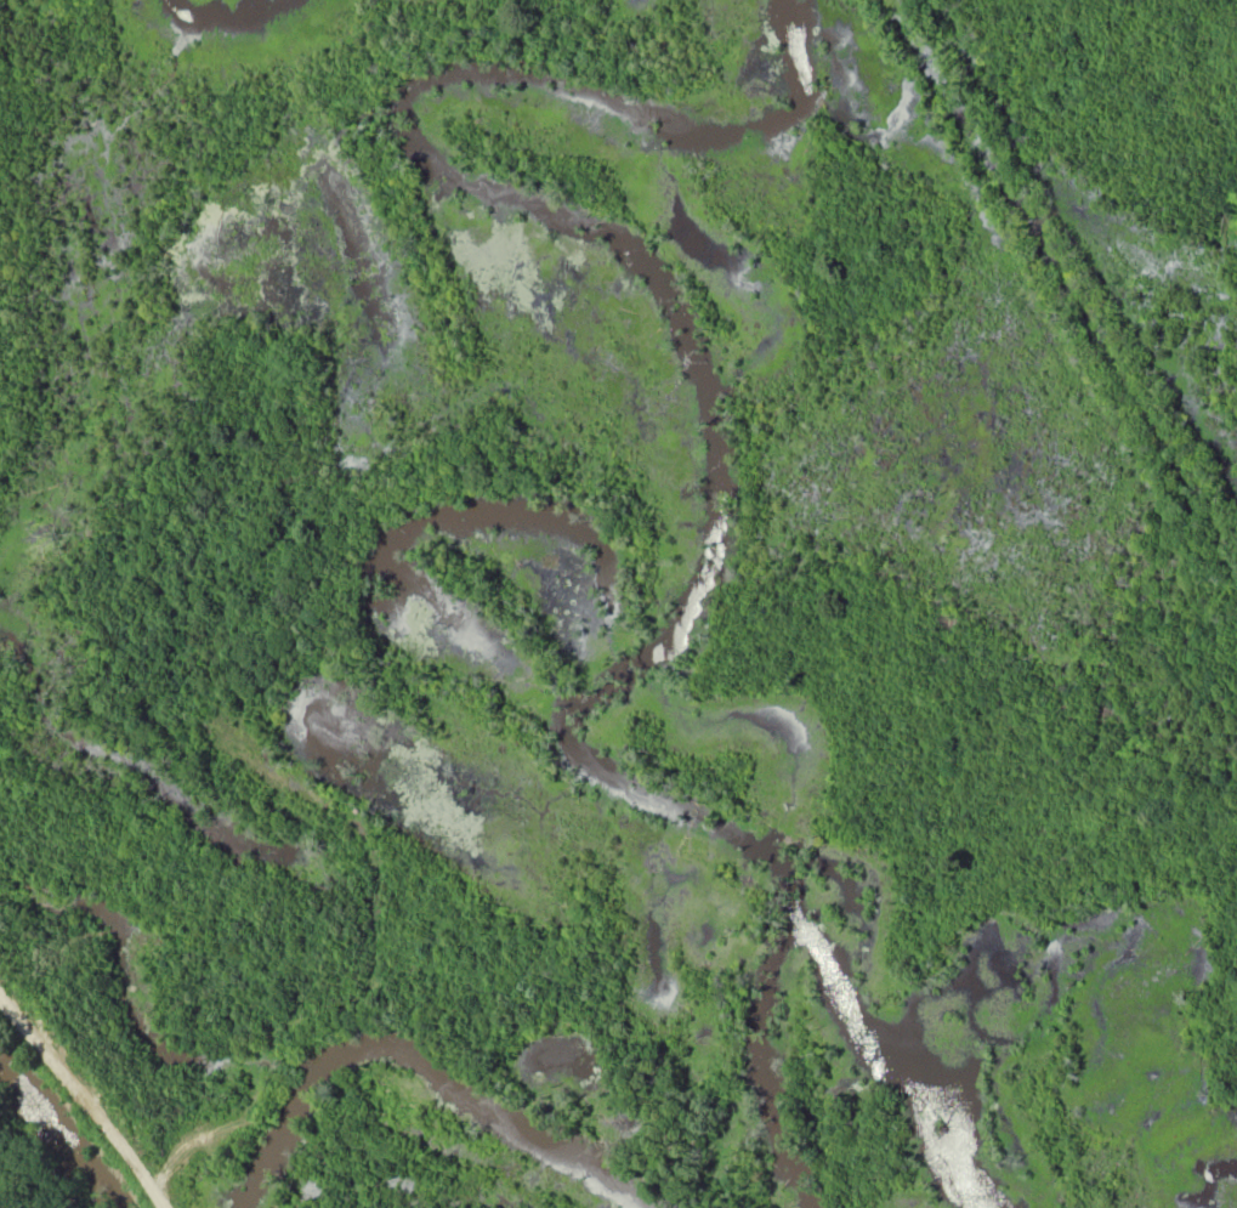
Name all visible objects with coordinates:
road: (84, 1102)

